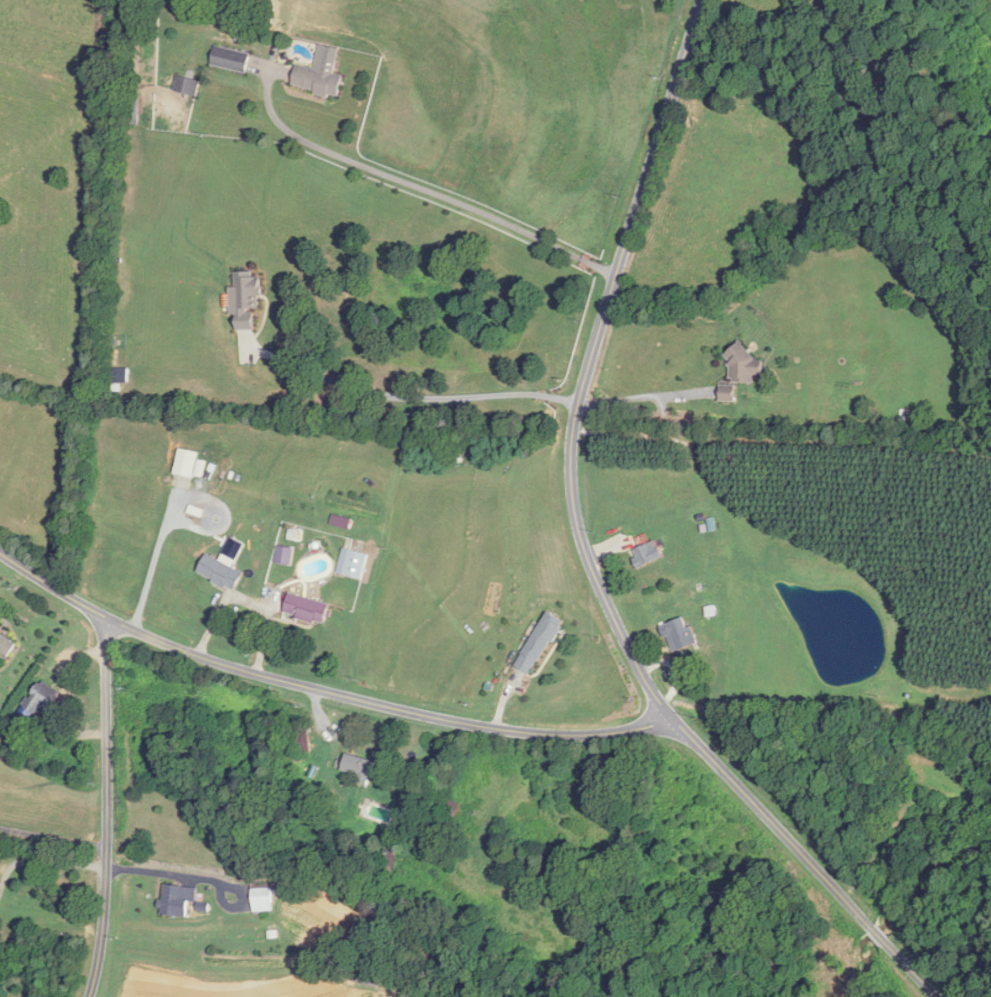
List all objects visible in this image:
road: (835, 30)
building: (232, 58)
building: (320, 78)
building: (187, 84)
road: (420, 185)
building: (743, 365)
building: (727, 393)
road: (643, 397)
road: (405, 412)
road: (587, 550)
building: (645, 554)
building: (286, 555)
building: (354, 562)
building: (223, 572)
road: (247, 600)
building: (309, 608)
building: (678, 634)
building: (538, 642)
building: (6, 646)
road: (325, 691)
building: (44, 697)
building: (304, 739)
building: (362, 768)
road: (107, 808)
road: (53, 836)
road: (44, 858)
building: (265, 898)
building: (179, 900)
road: (978, 986)

